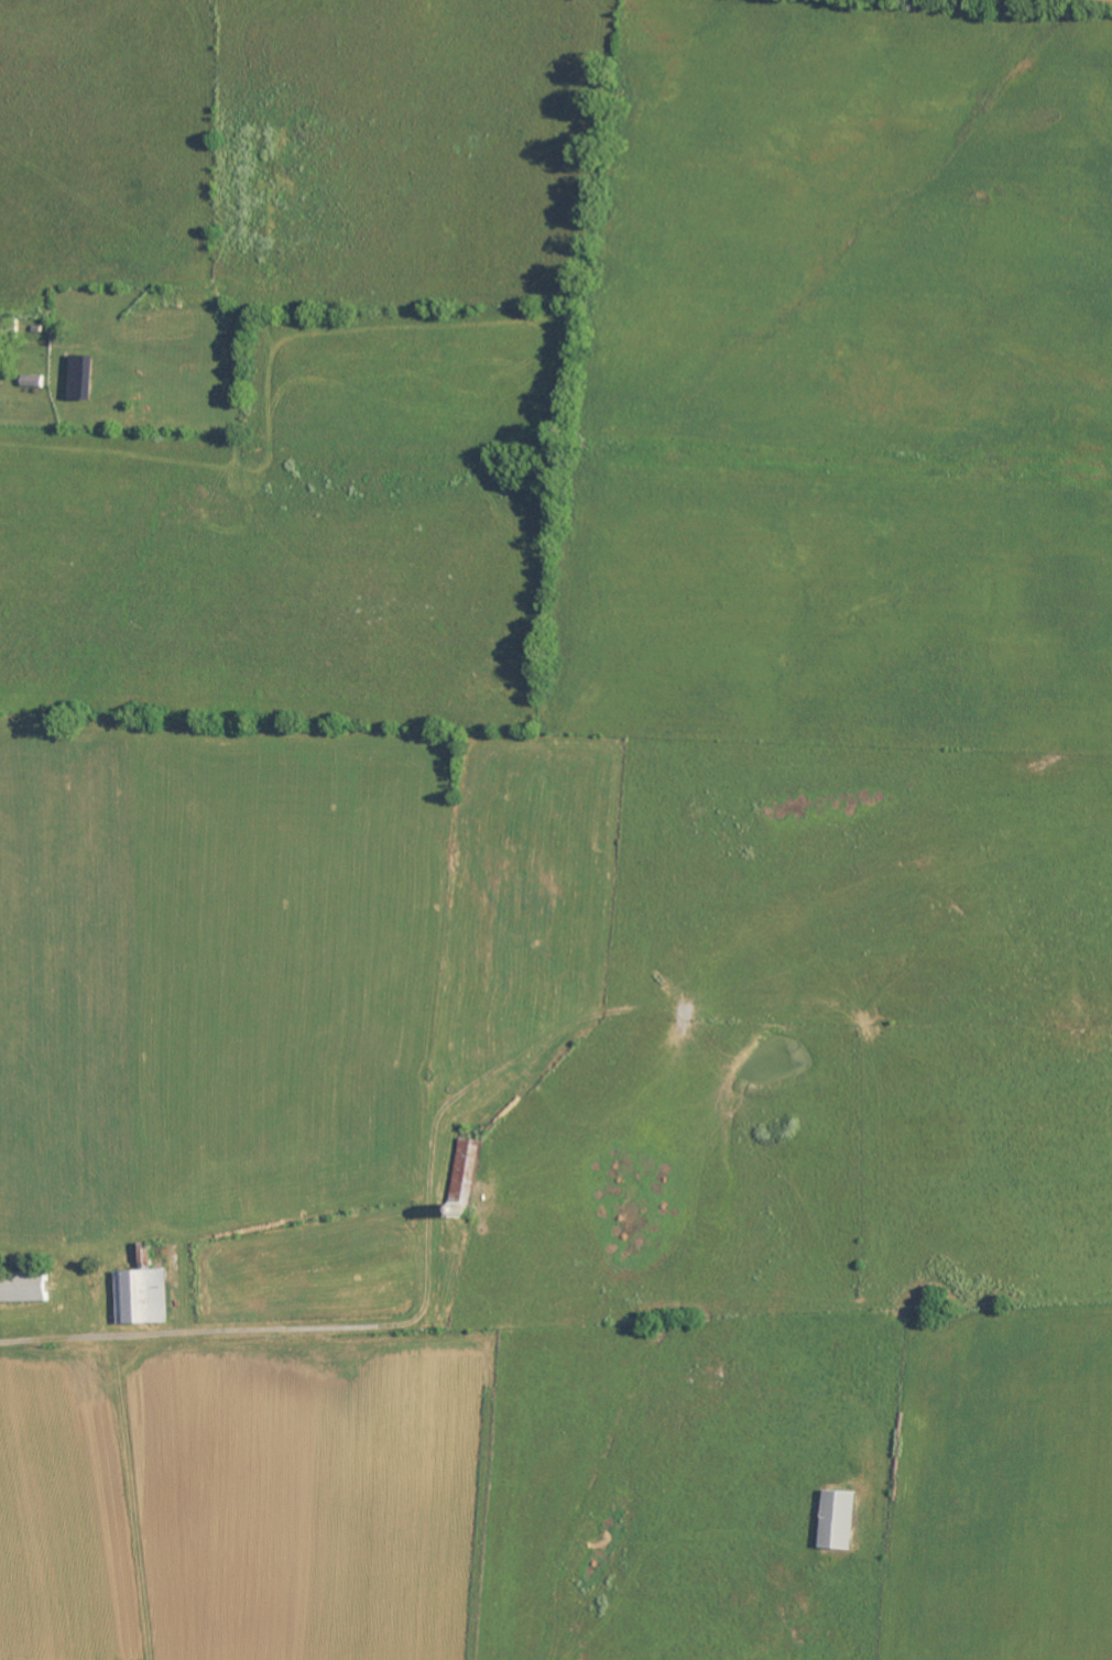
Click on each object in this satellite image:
building: (86, 379)
building: (469, 1169)
building: (29, 1288)
building: (843, 1520)

